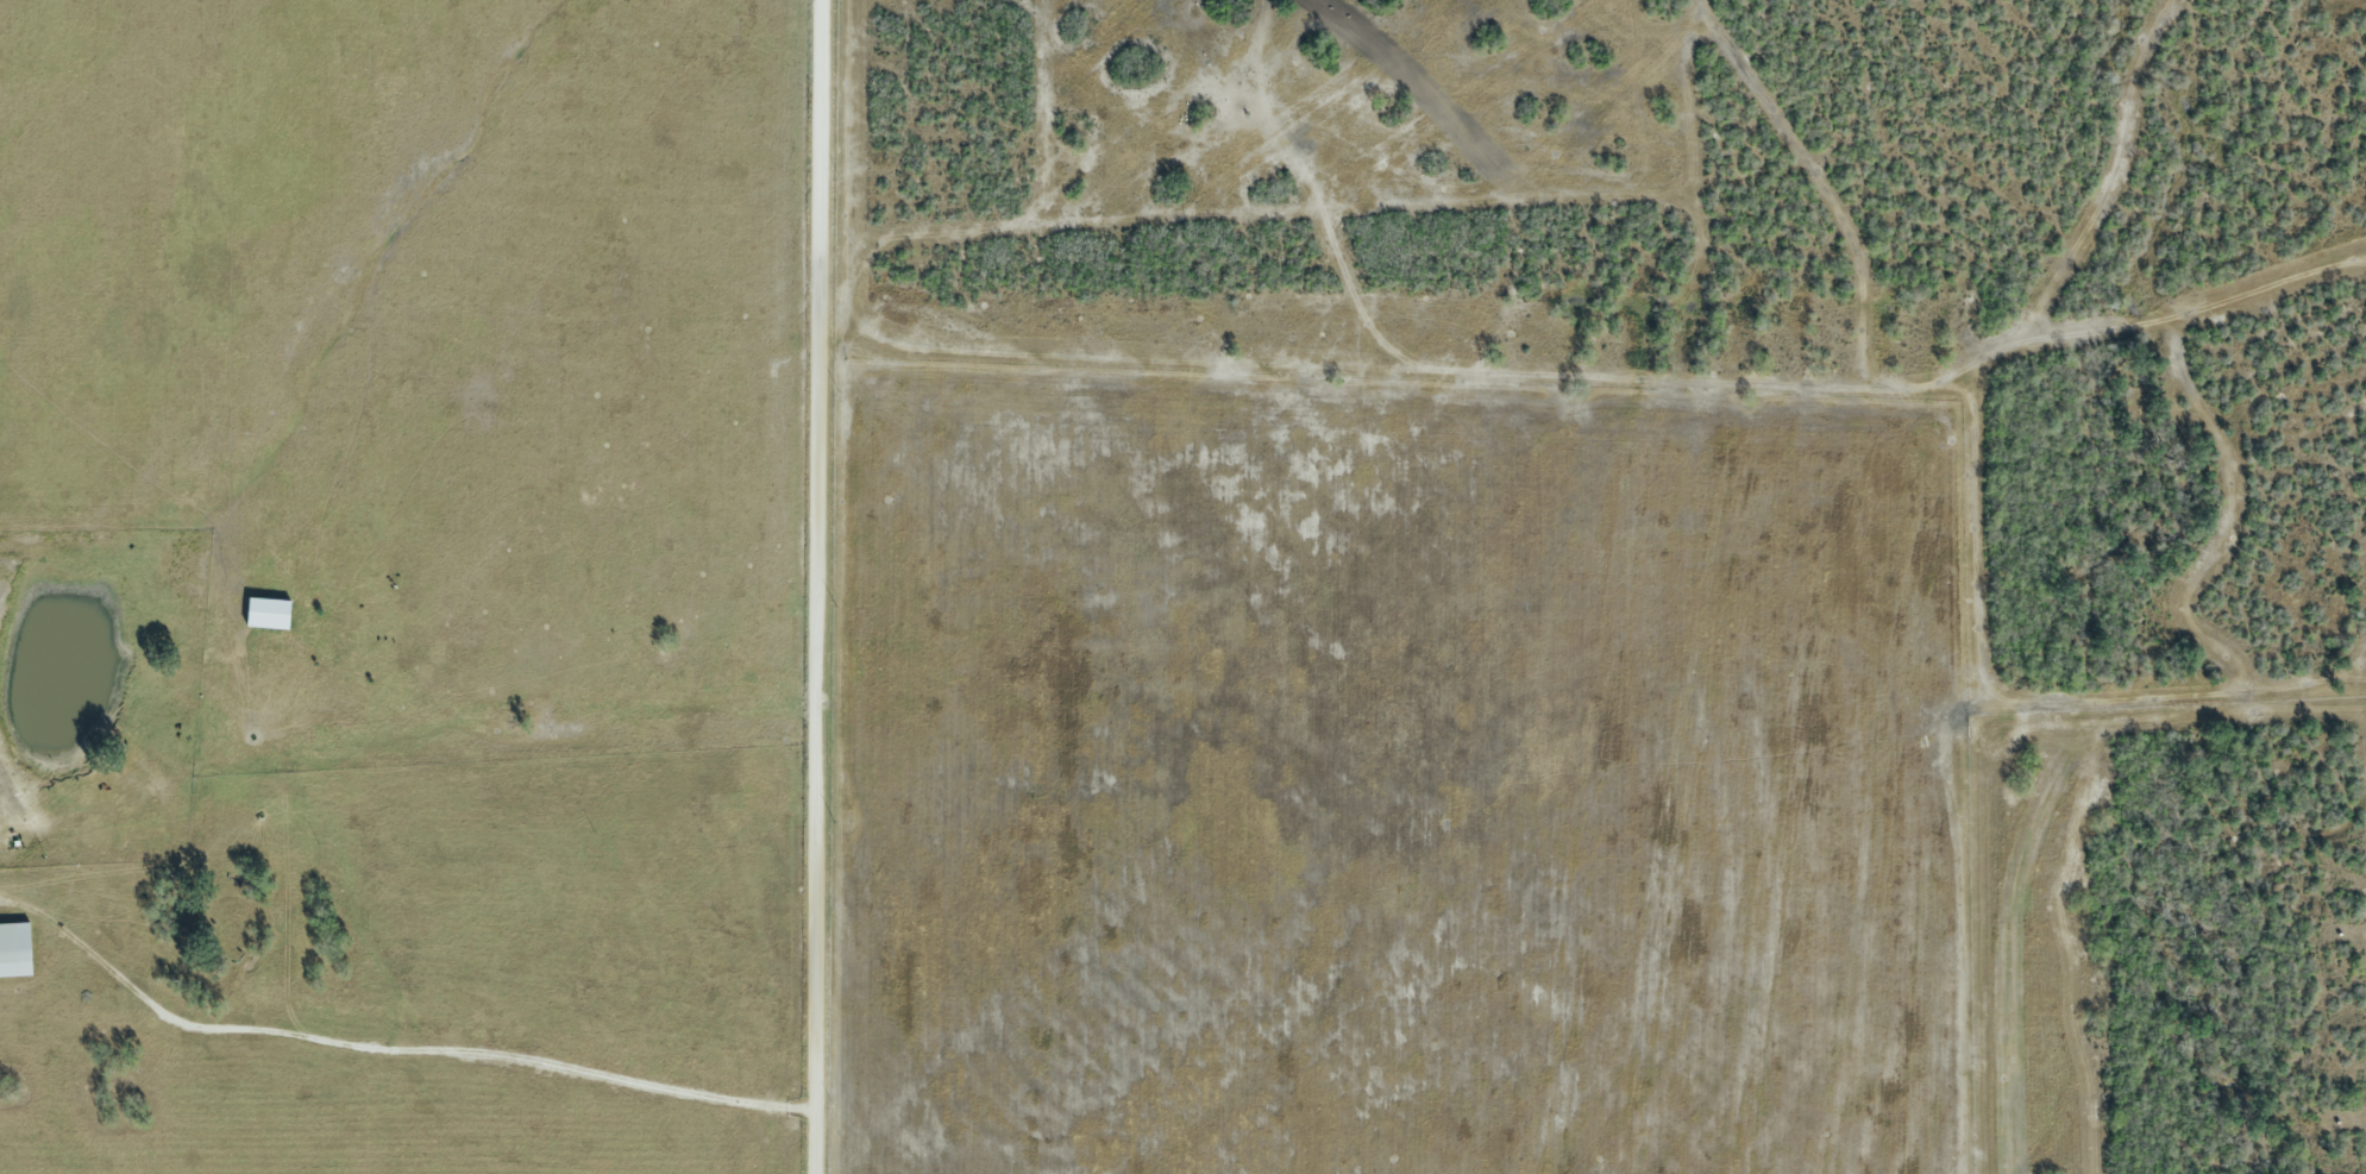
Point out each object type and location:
road: (824, 586)
building: (13, 948)
road: (443, 1048)

